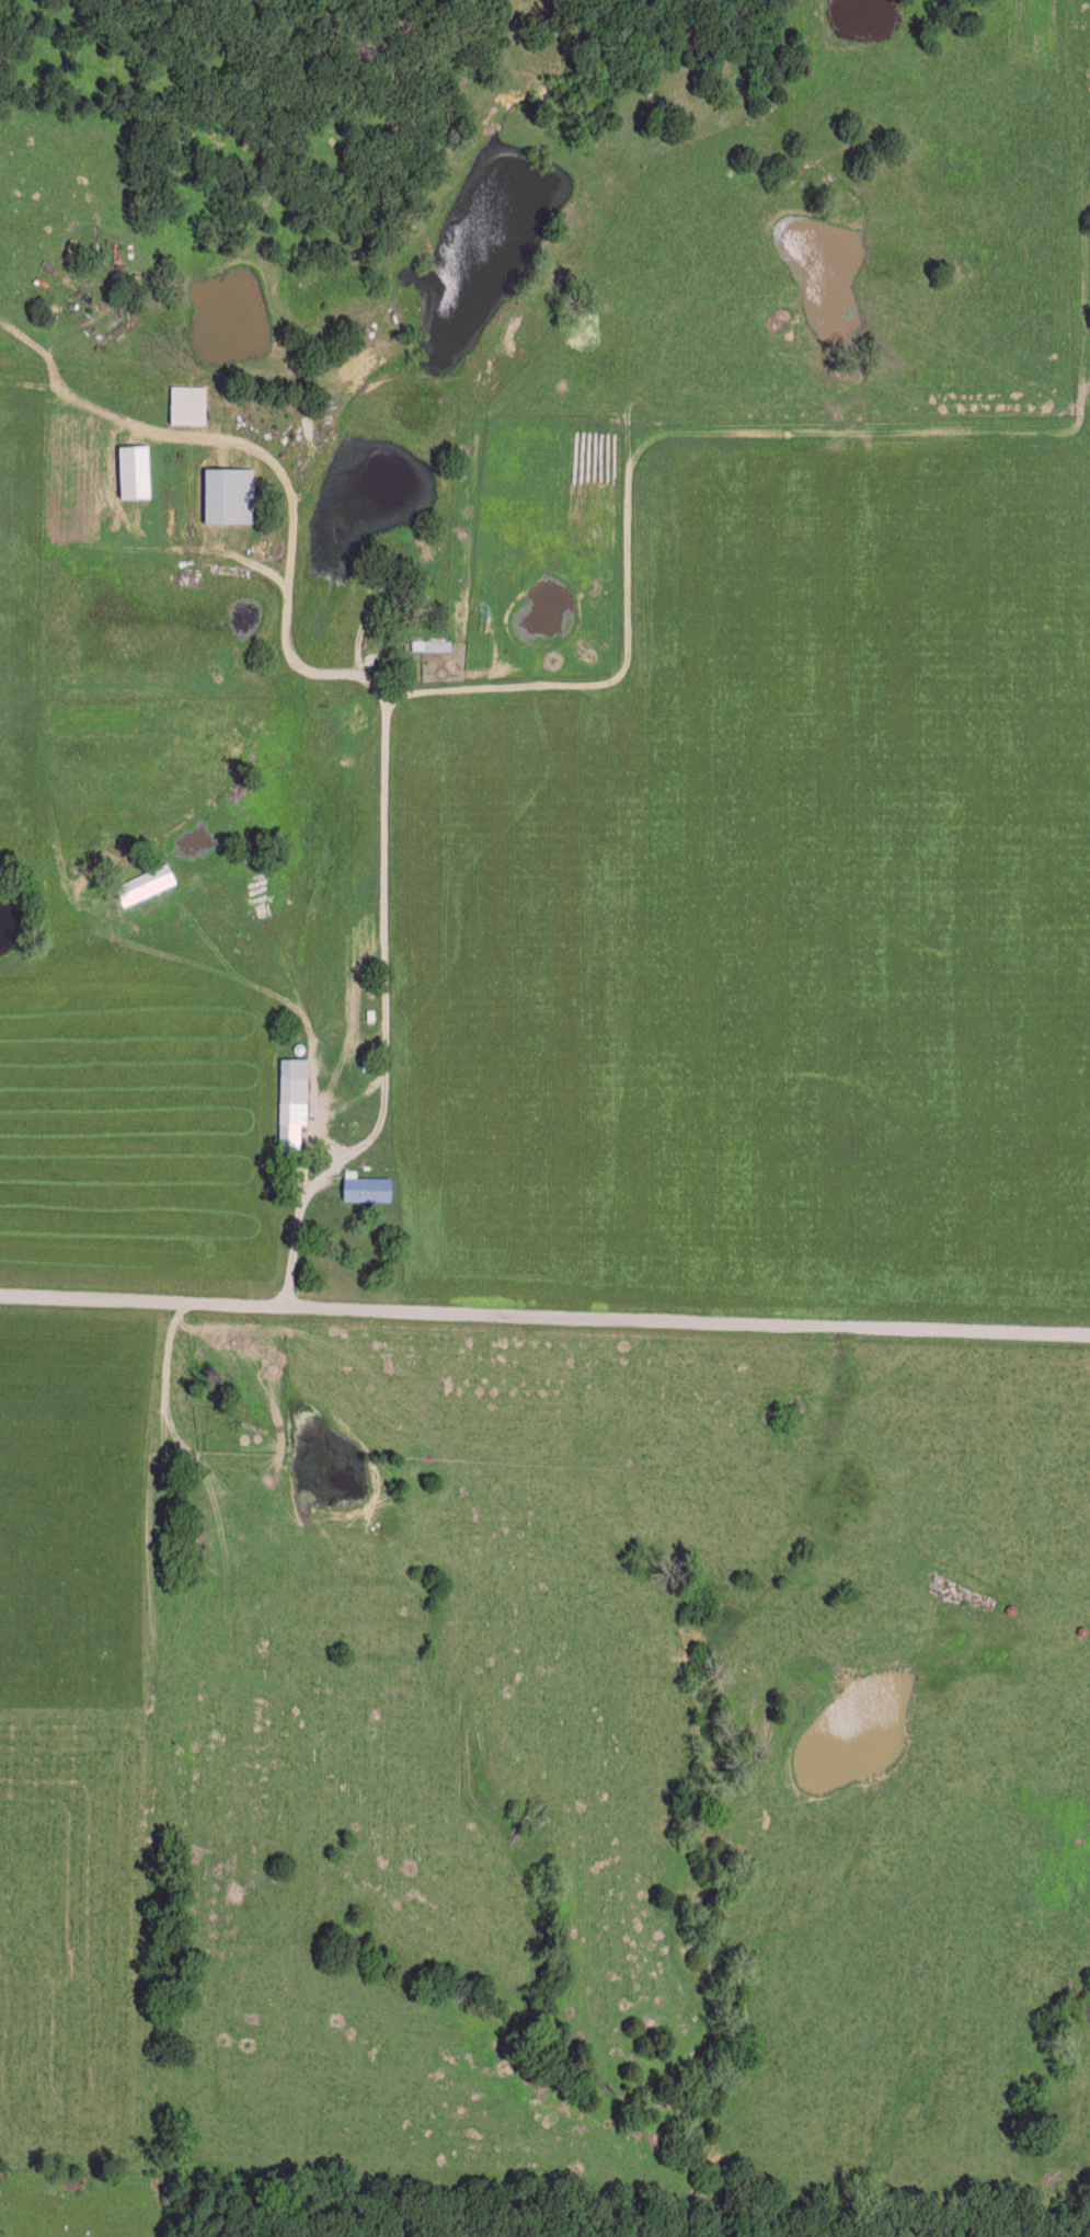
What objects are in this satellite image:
building: (186, 403)
building: (133, 470)
building: (228, 493)
road: (470, 690)
road: (387, 1020)
building: (291, 1101)
building: (365, 1185)
road: (544, 1319)

